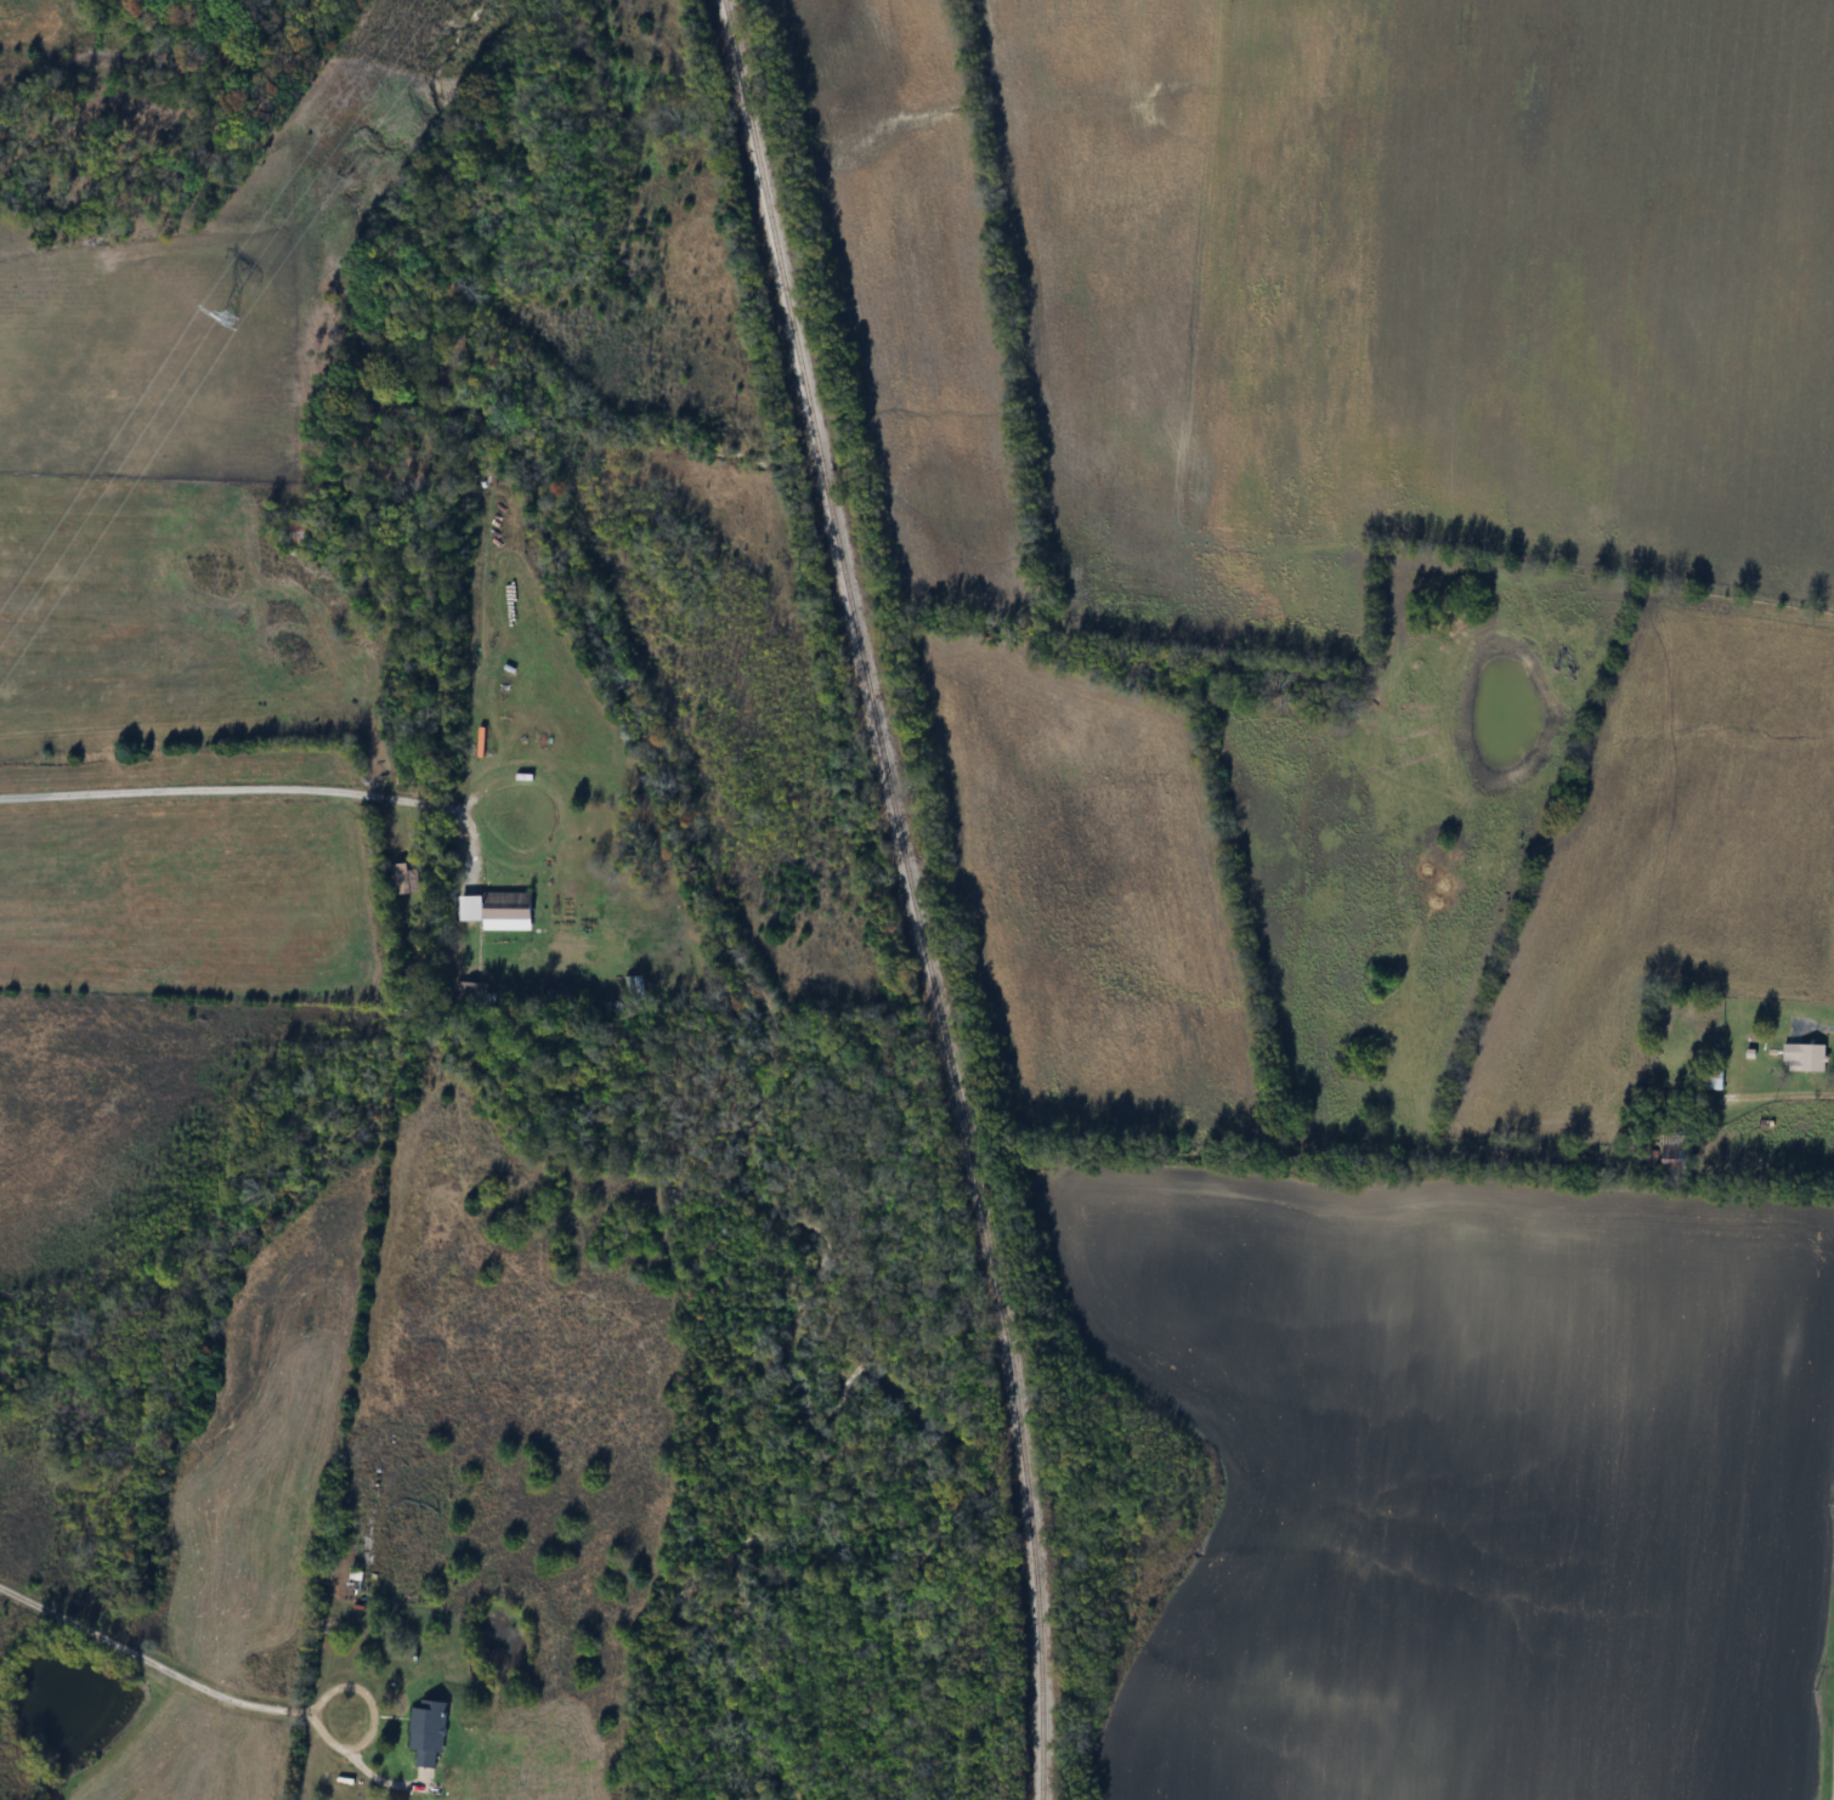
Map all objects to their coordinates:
power tower: (228, 317)
road: (260, 786)
railway: (908, 895)
building: (509, 905)
building: (630, 985)
building: (470, 992)
building: (1804, 1057)
building: (1713, 1077)
road: (1772, 1093)
building: (1675, 1151)
building: (355, 1579)
road: (149, 1659)
road: (375, 1714)
building: (430, 1731)

